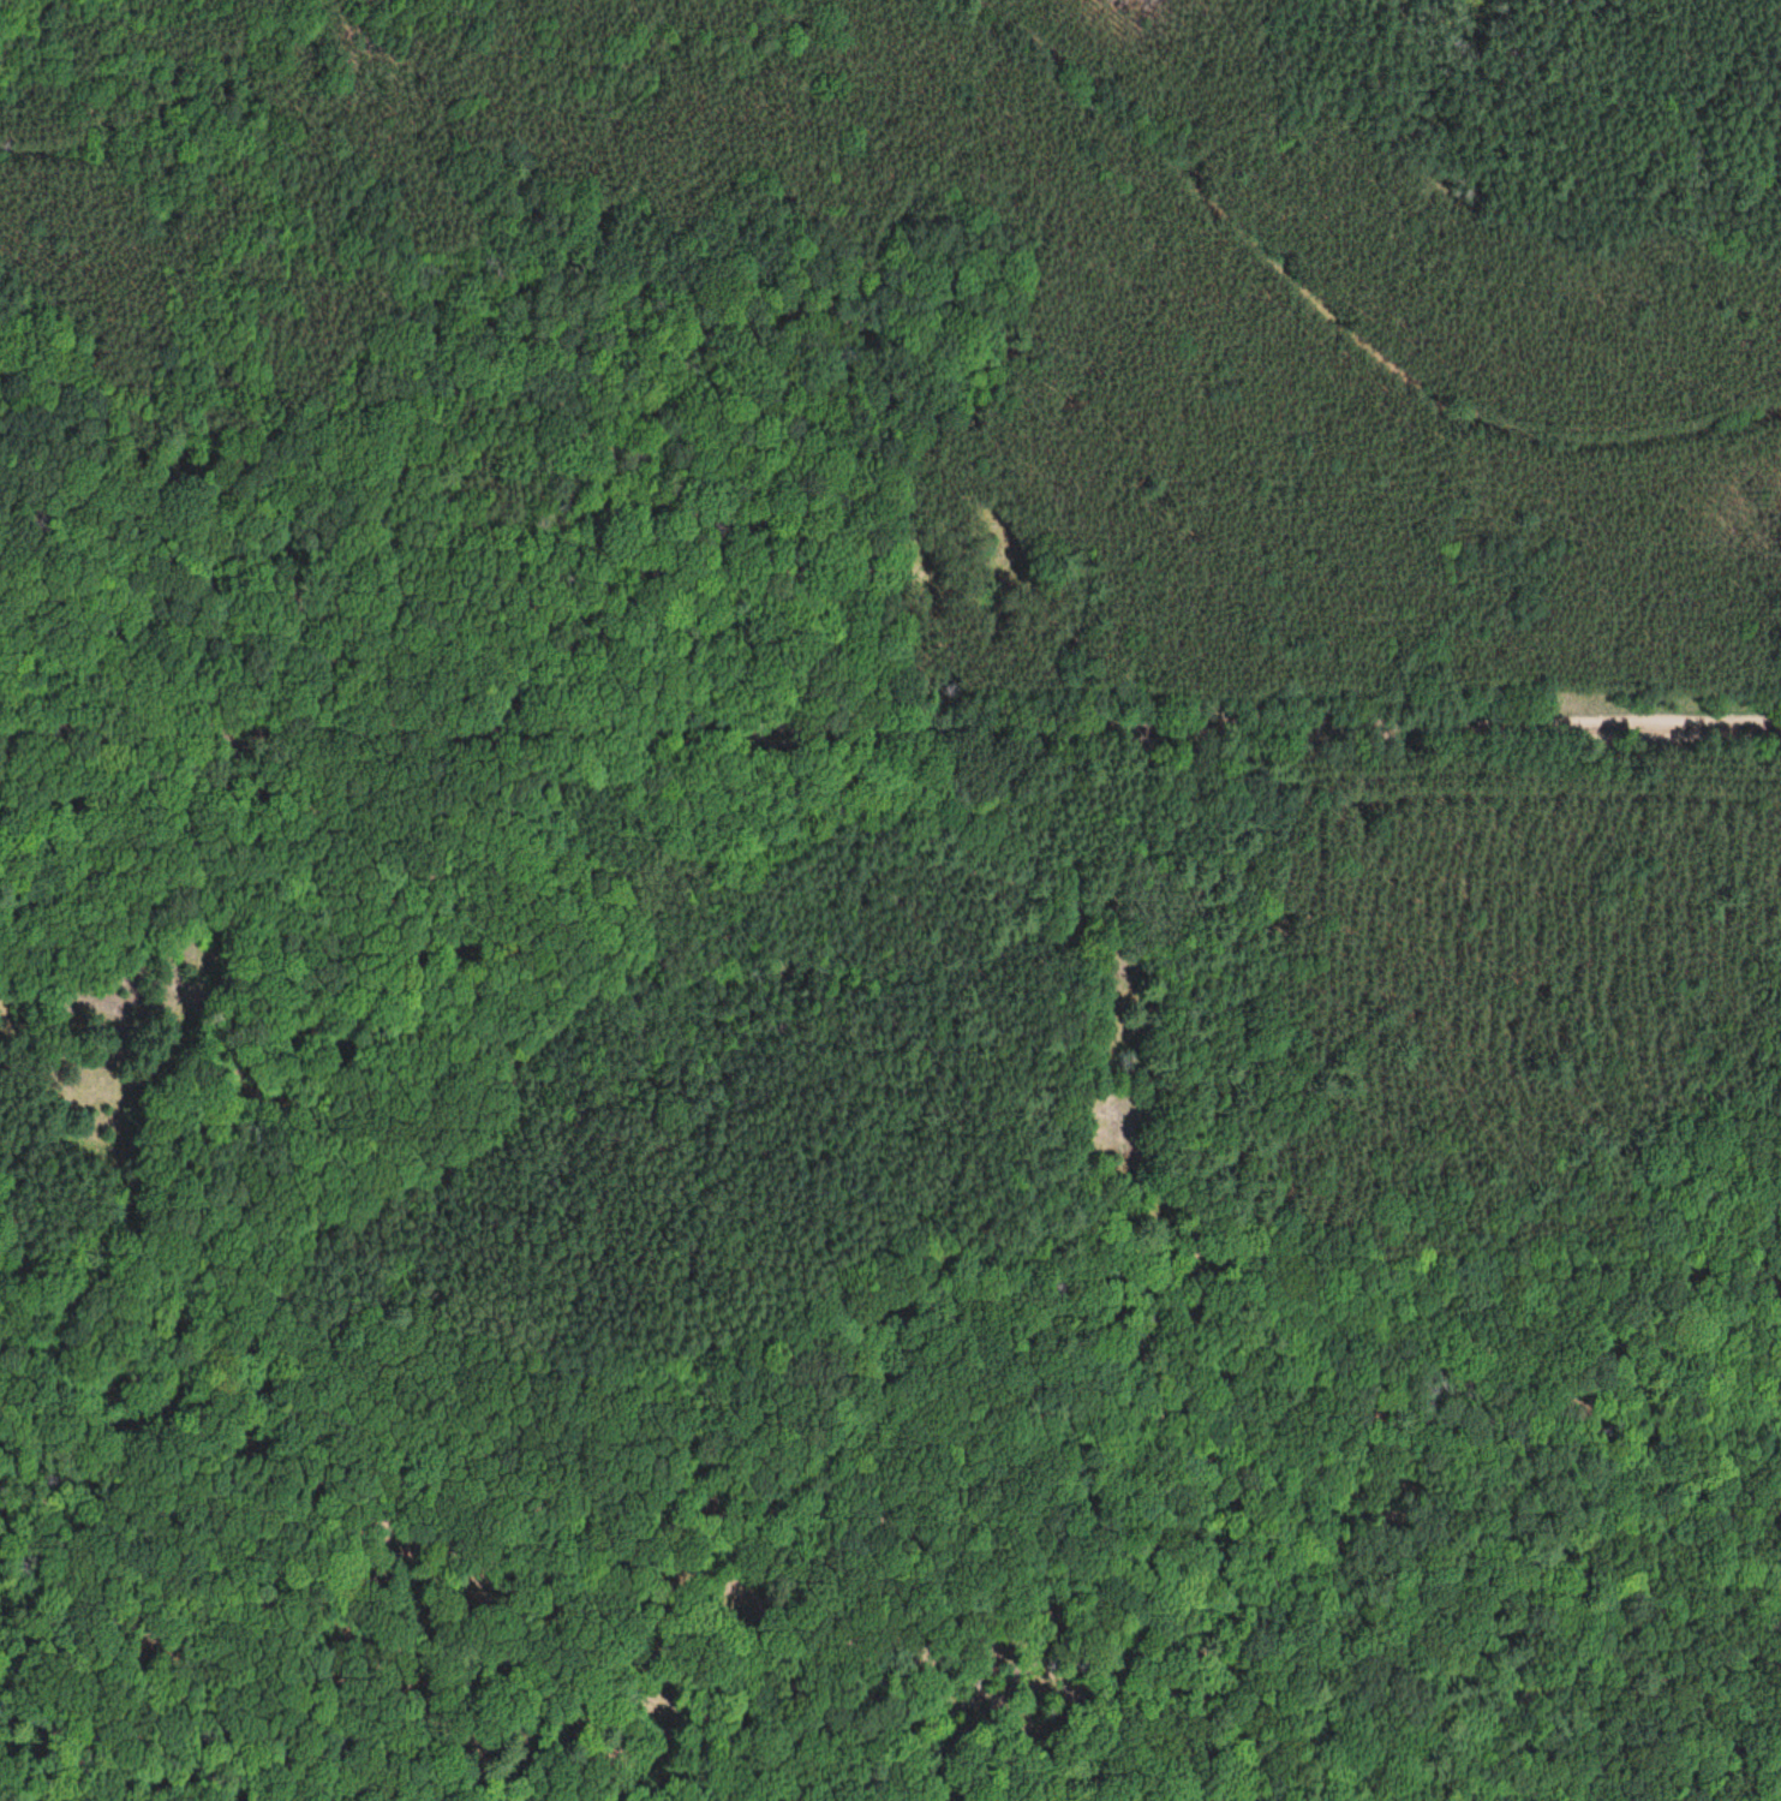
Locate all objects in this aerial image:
road: (890, 736)

